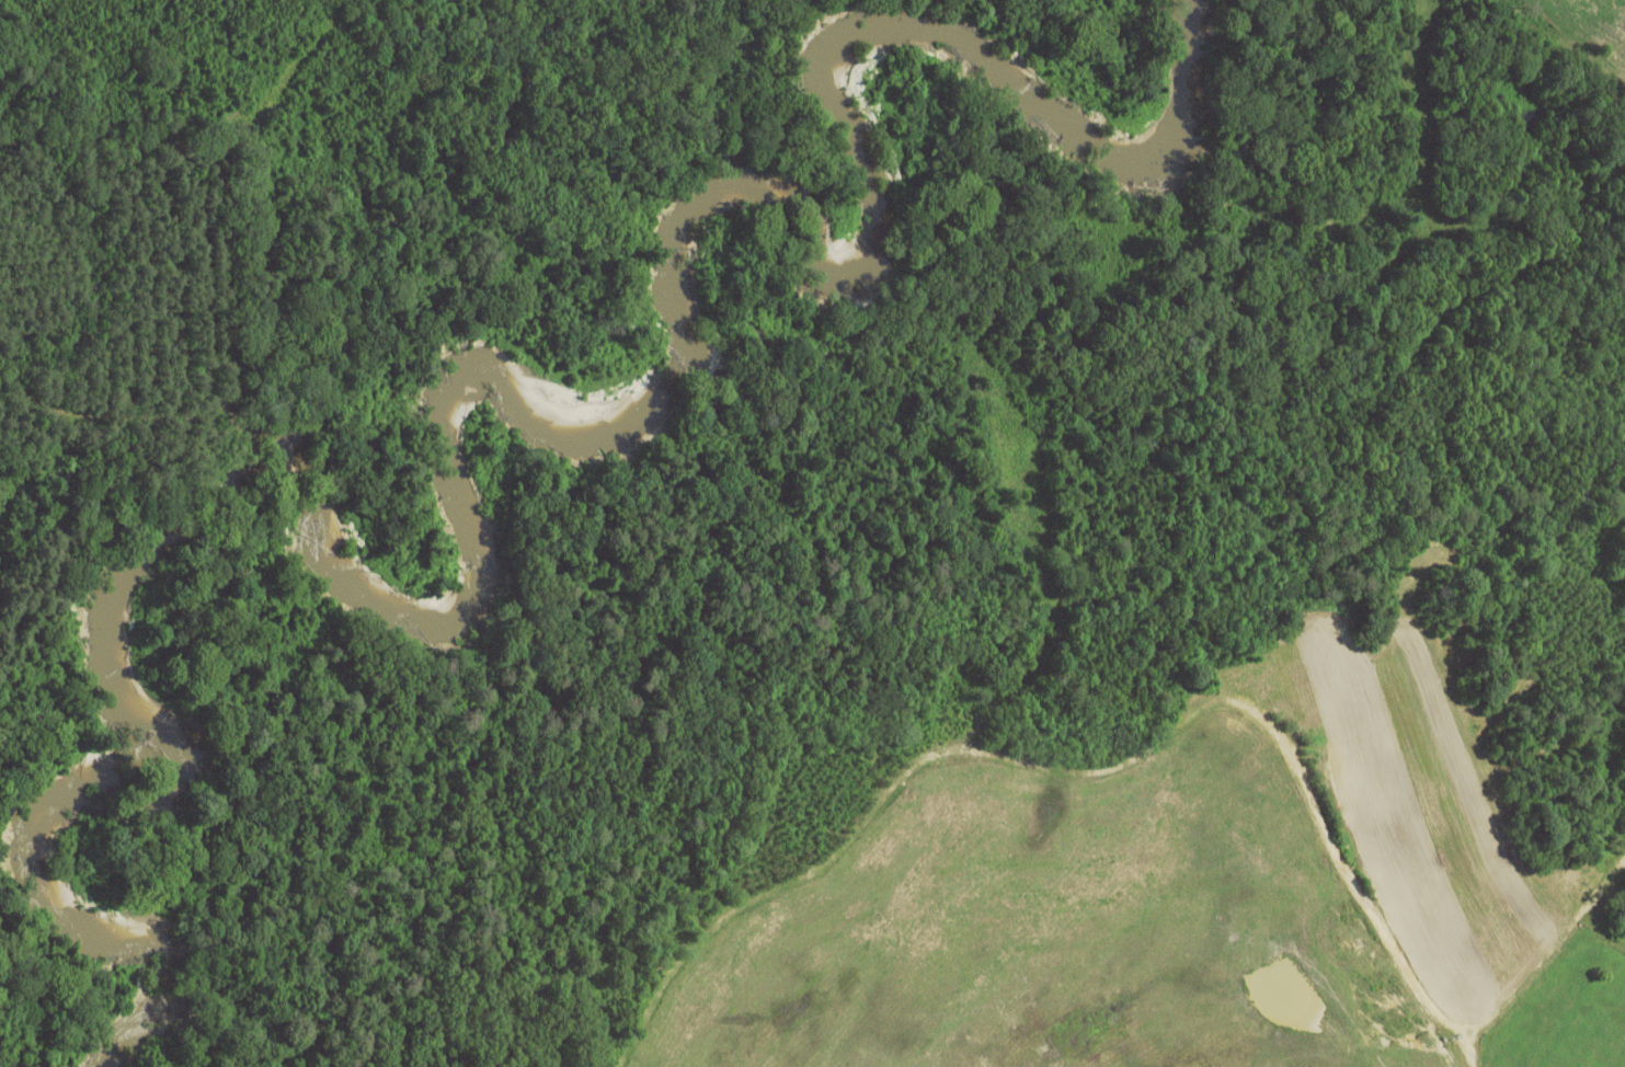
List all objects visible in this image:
river: (581, 431)

